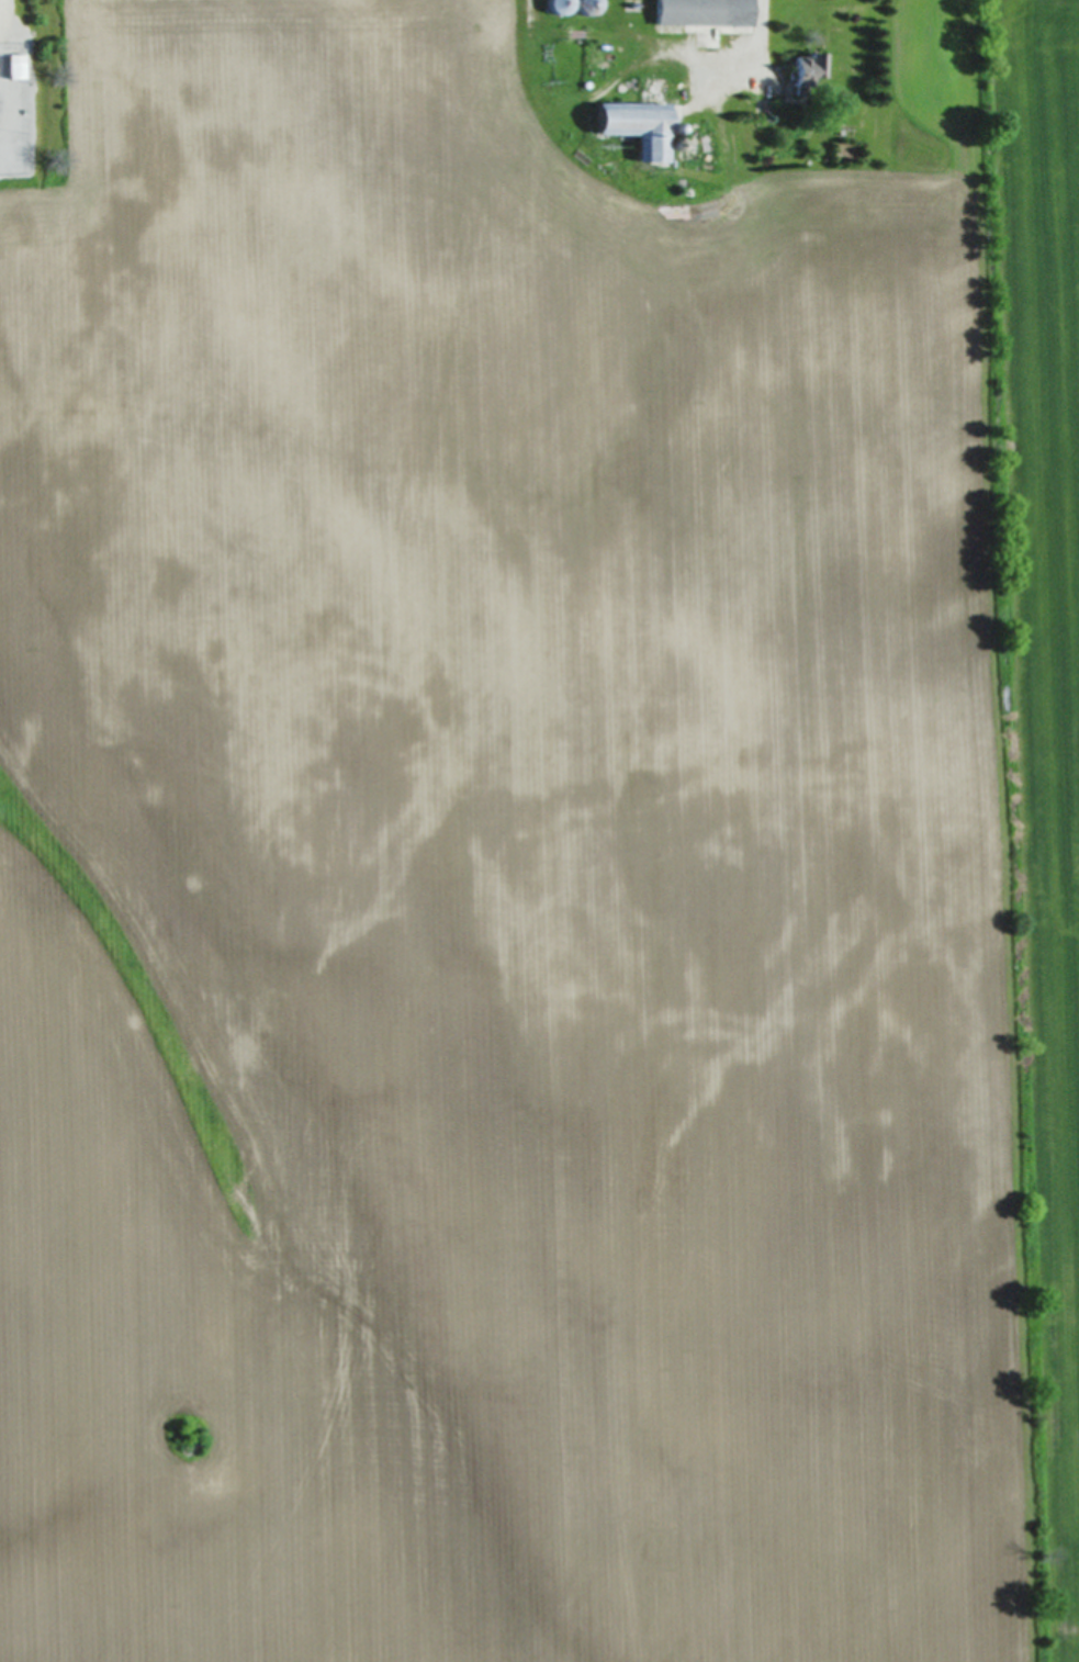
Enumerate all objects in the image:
building: (703, 12)
building: (14, 67)
building: (806, 67)
power substation: (14, 111)
building: (630, 124)

